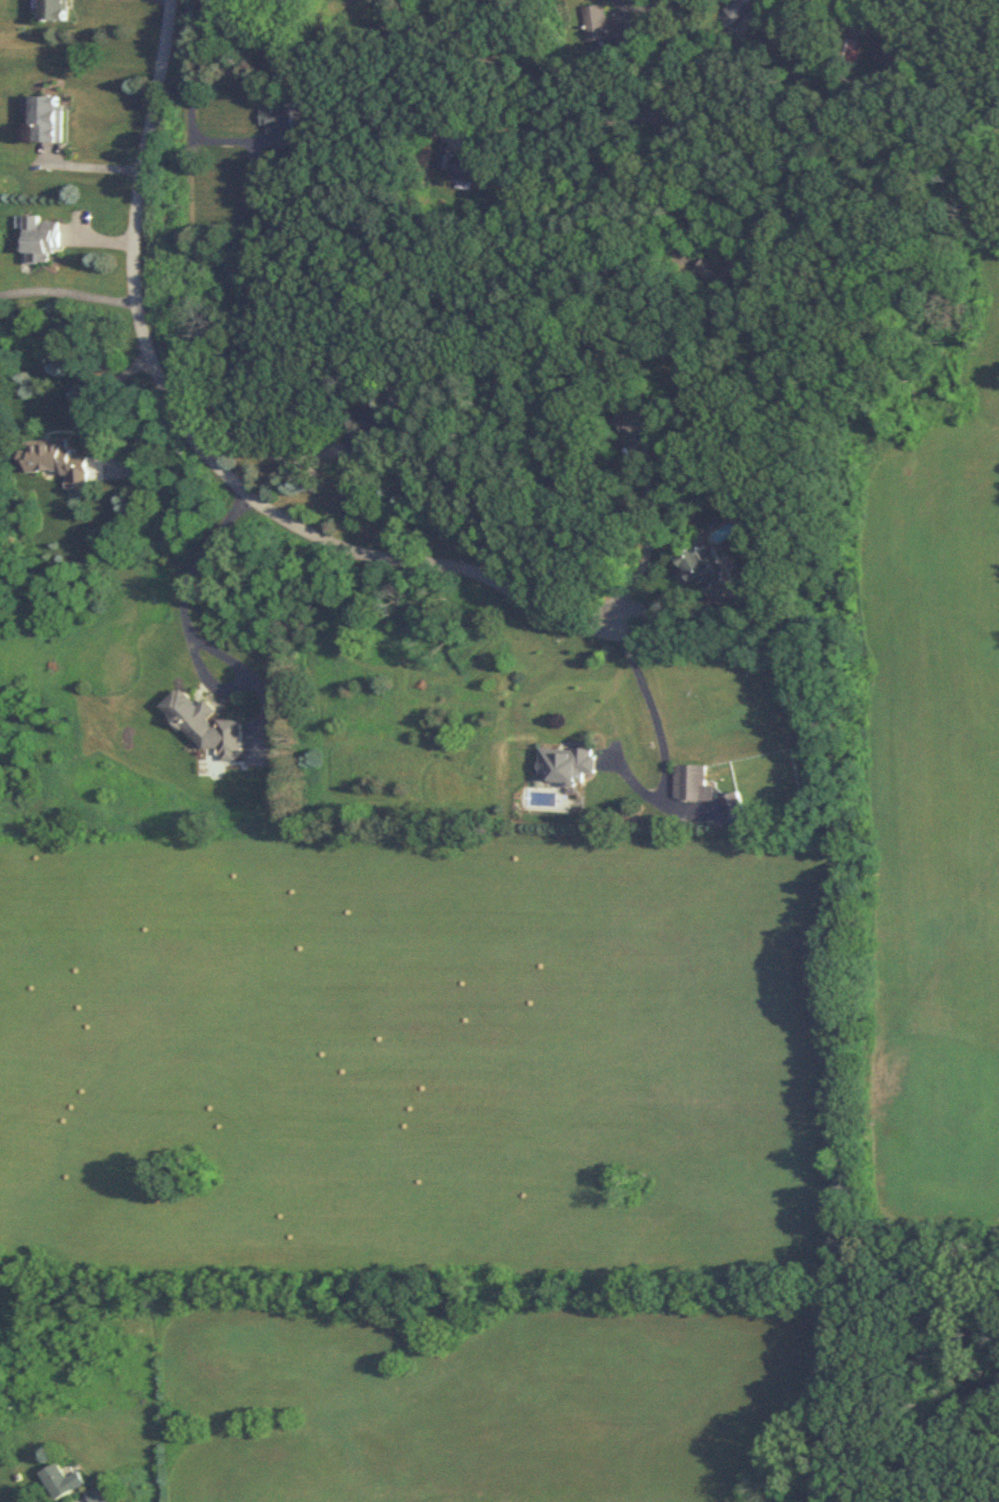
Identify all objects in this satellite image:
building: (278, 1)
road: (855, 3)
building: (58, 10)
building: (740, 11)
building: (607, 27)
building: (887, 51)
road: (188, 106)
road: (624, 112)
building: (47, 118)
building: (285, 128)
road: (88, 166)
road: (680, 171)
building: (44, 243)
building: (733, 271)
road: (69, 291)
road: (97, 398)
road: (198, 444)
road: (264, 452)
building: (58, 460)
road: (647, 556)
building: (709, 574)
road: (663, 610)
road: (40, 629)
road: (187, 636)
road: (218, 654)
building: (207, 726)
road: (658, 735)
building: (571, 764)
building: (694, 784)
building: (735, 806)
building: (64, 1480)
building: (101, 1492)
road: (82, 1501)

